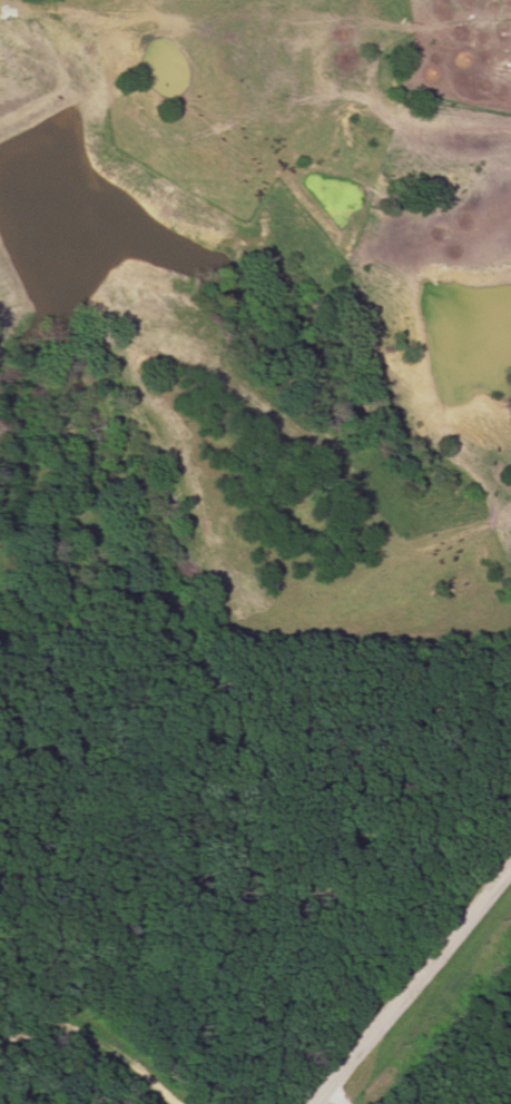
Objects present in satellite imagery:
road: (409, 984)
road: (98, 1057)

